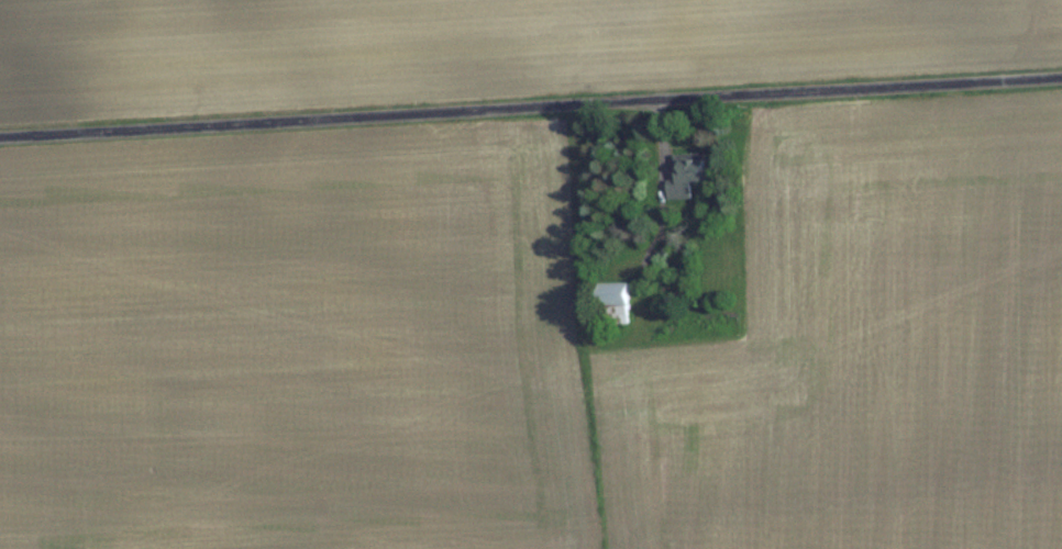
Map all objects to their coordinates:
road: (531, 108)
building: (687, 172)
building: (617, 301)

